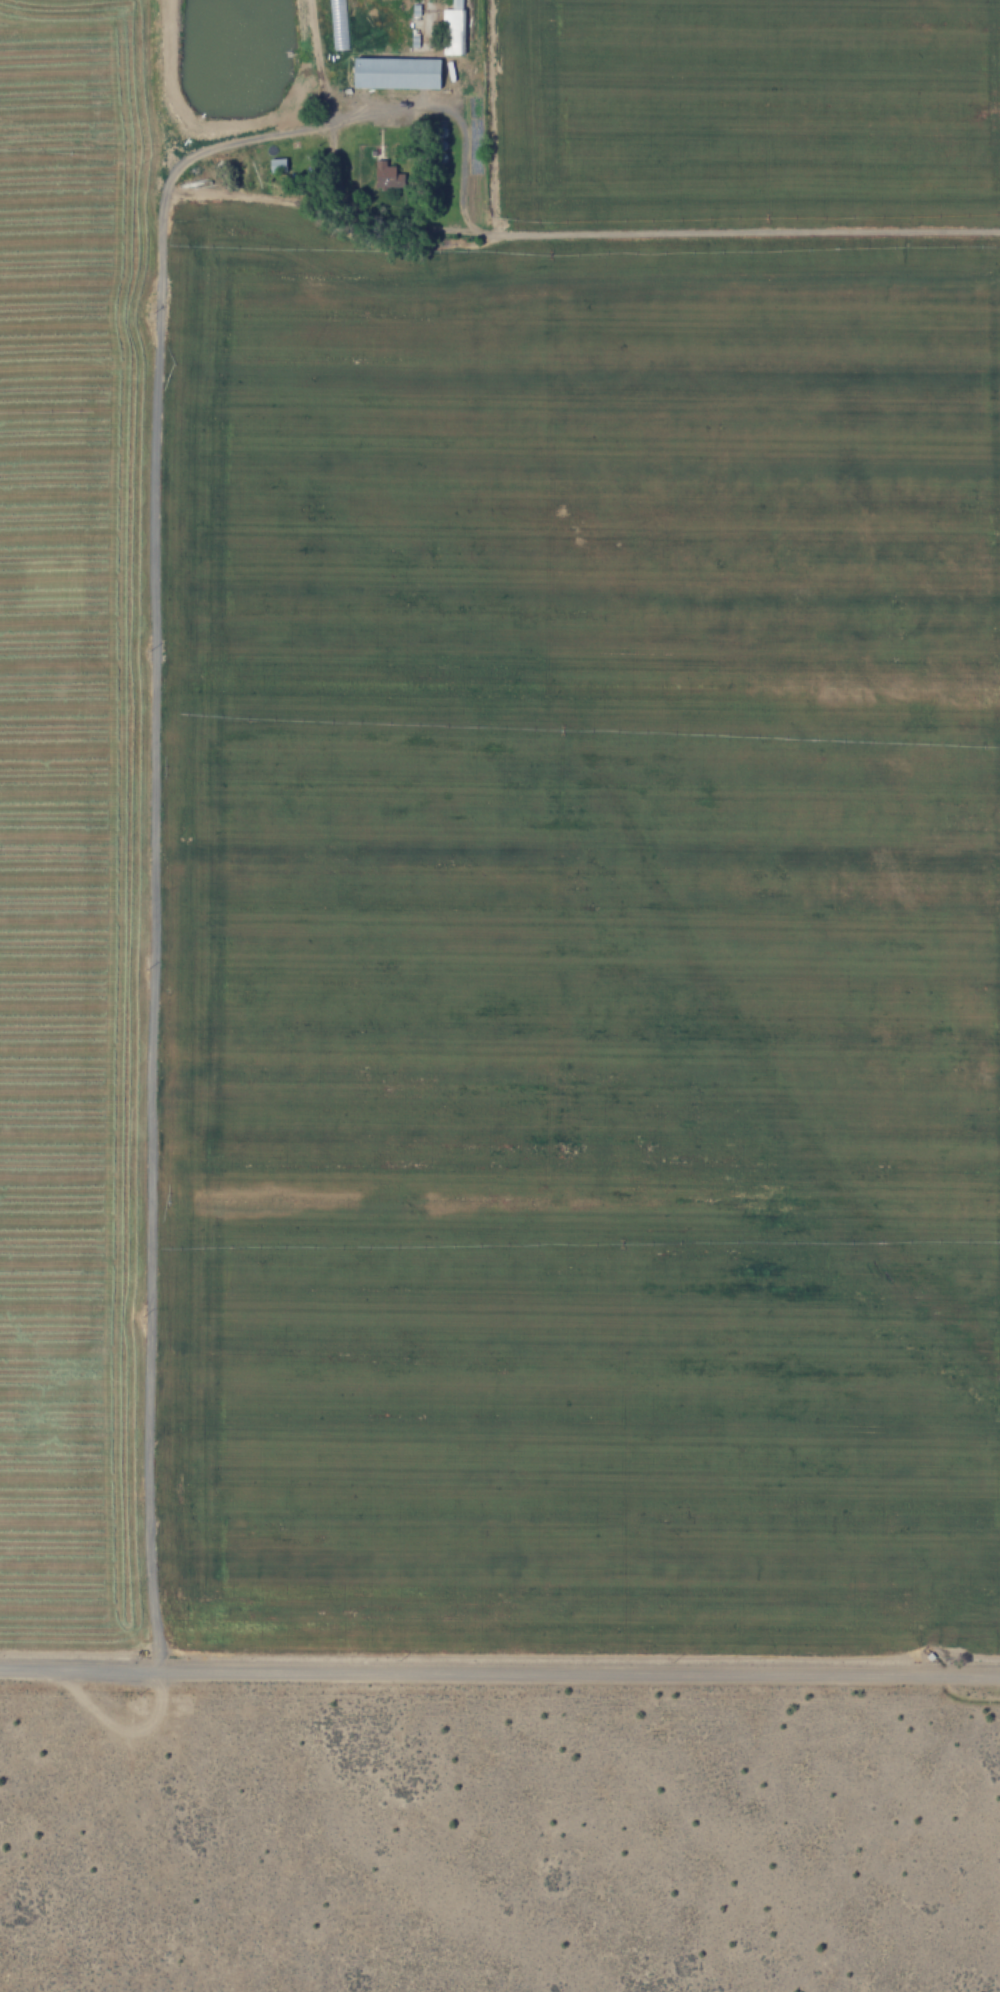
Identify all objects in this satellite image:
building: (399, 72)
road: (500, 1666)

